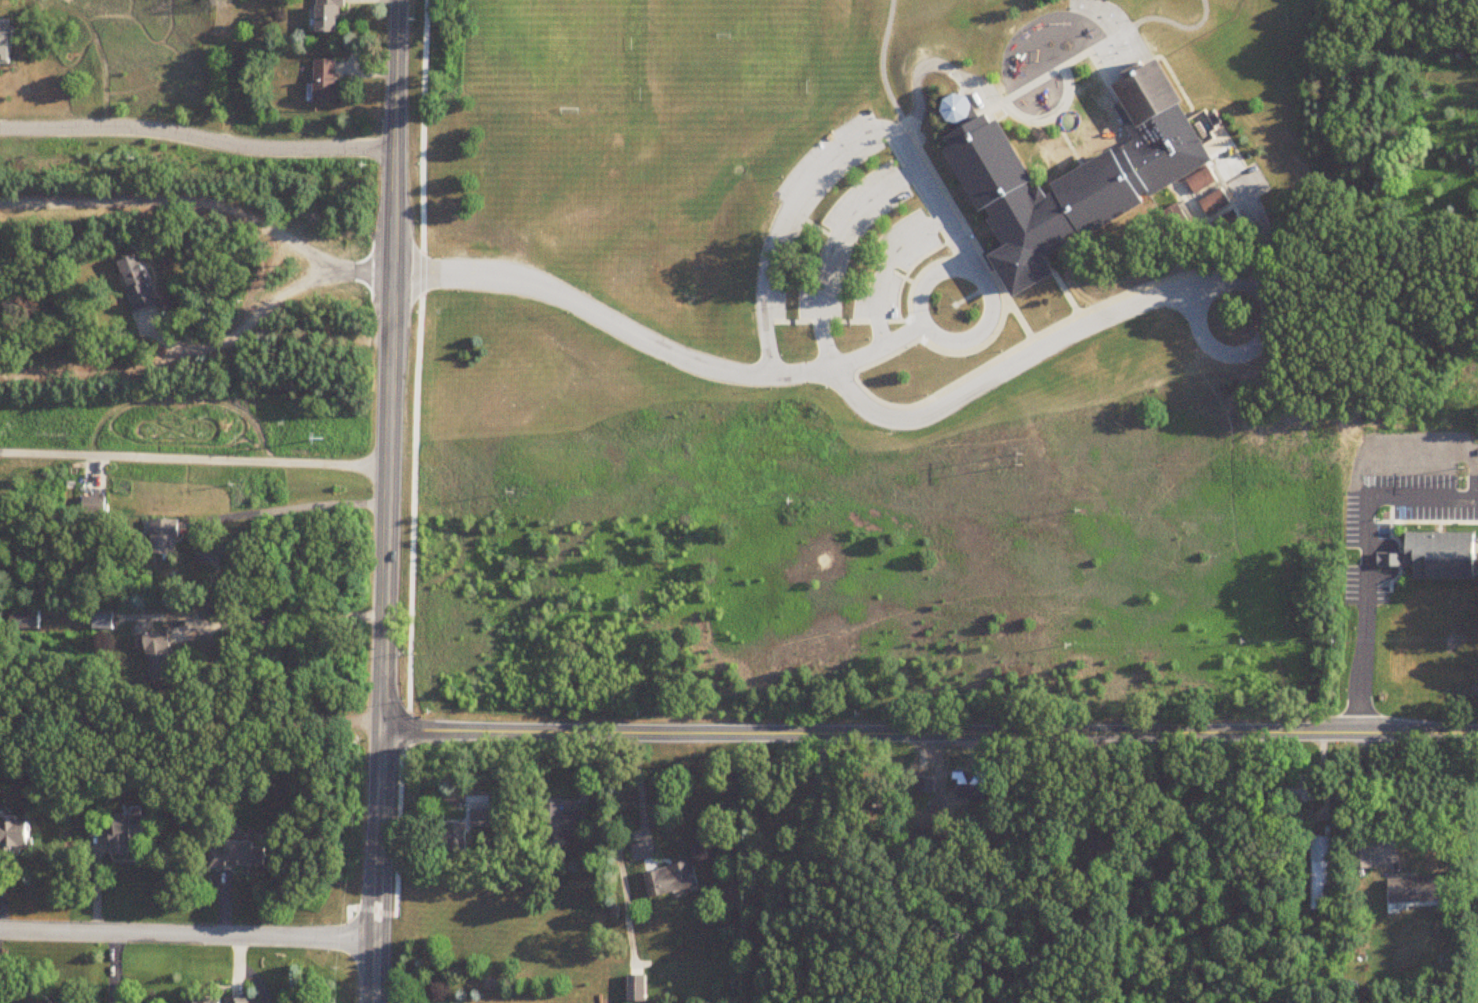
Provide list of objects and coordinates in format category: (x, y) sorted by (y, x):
park: (1102, 15)
building: (332, 17)
road: (1092, 51)
park: (1124, 56)
park: (636, 57)
road: (918, 78)
building: (328, 82)
building: (957, 112)
road: (196, 142)
road: (934, 172)
building: (1199, 181)
building: (1075, 182)
building: (1211, 203)
road: (782, 224)
road: (831, 251)
road: (970, 260)
road: (886, 272)
road: (928, 280)
building: (139, 285)
road: (262, 333)
road: (1263, 338)
road: (660, 348)
road: (1006, 364)
road: (392, 366)
road: (1423, 407)
power tower: (312, 439)
road: (194, 456)
power tower: (1020, 461)
power tower: (1460, 471)
road: (301, 507)
building: (168, 537)
road: (1365, 603)
road: (289, 619)
building: (104, 621)
building: (160, 657)
road: (189, 725)
road: (928, 734)
building: (926, 787)
building: (420, 790)
building: (974, 790)
building: (1297, 790)
road: (640, 799)
building: (562, 821)
building: (133, 834)
building: (16, 838)
building: (456, 839)
building: (240, 857)
building: (1359, 857)
road: (799, 867)
road: (376, 868)
building: (1320, 873)
building: (674, 881)
building: (1413, 890)
road: (187, 934)
building: (221, 1001)

